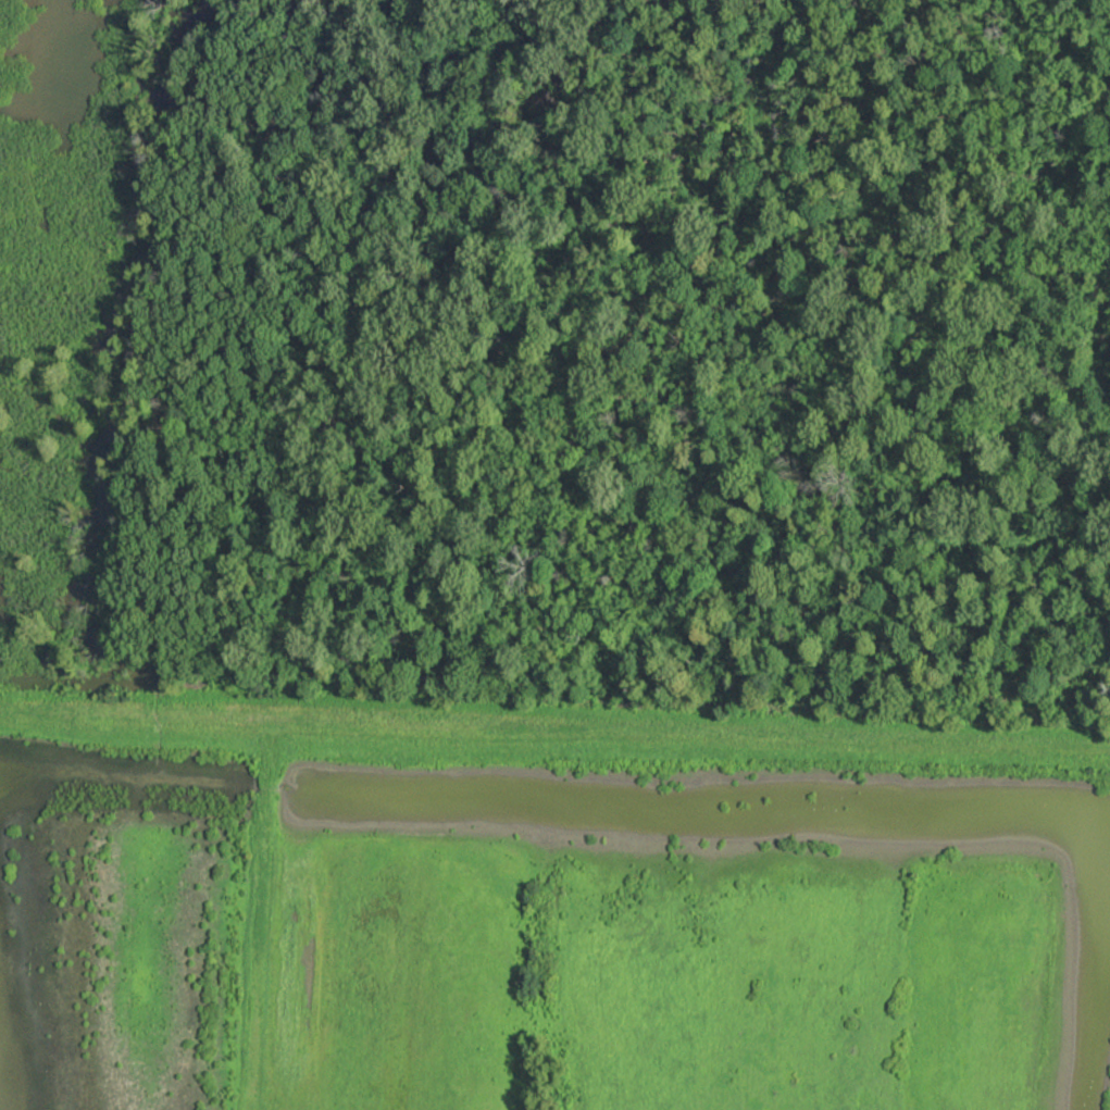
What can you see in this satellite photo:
road: (136, 714)
road: (690, 734)
road: (260, 914)

